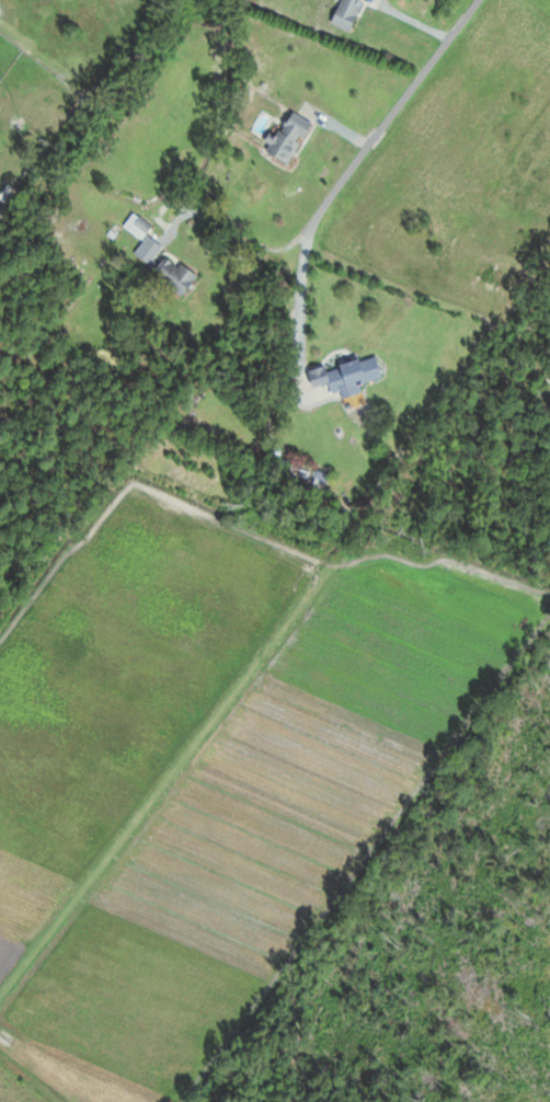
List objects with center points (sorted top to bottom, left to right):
building: (347, 13)
road: (378, 130)
building: (288, 139)
building: (137, 226)
building: (172, 272)
road: (300, 306)
building: (346, 374)

